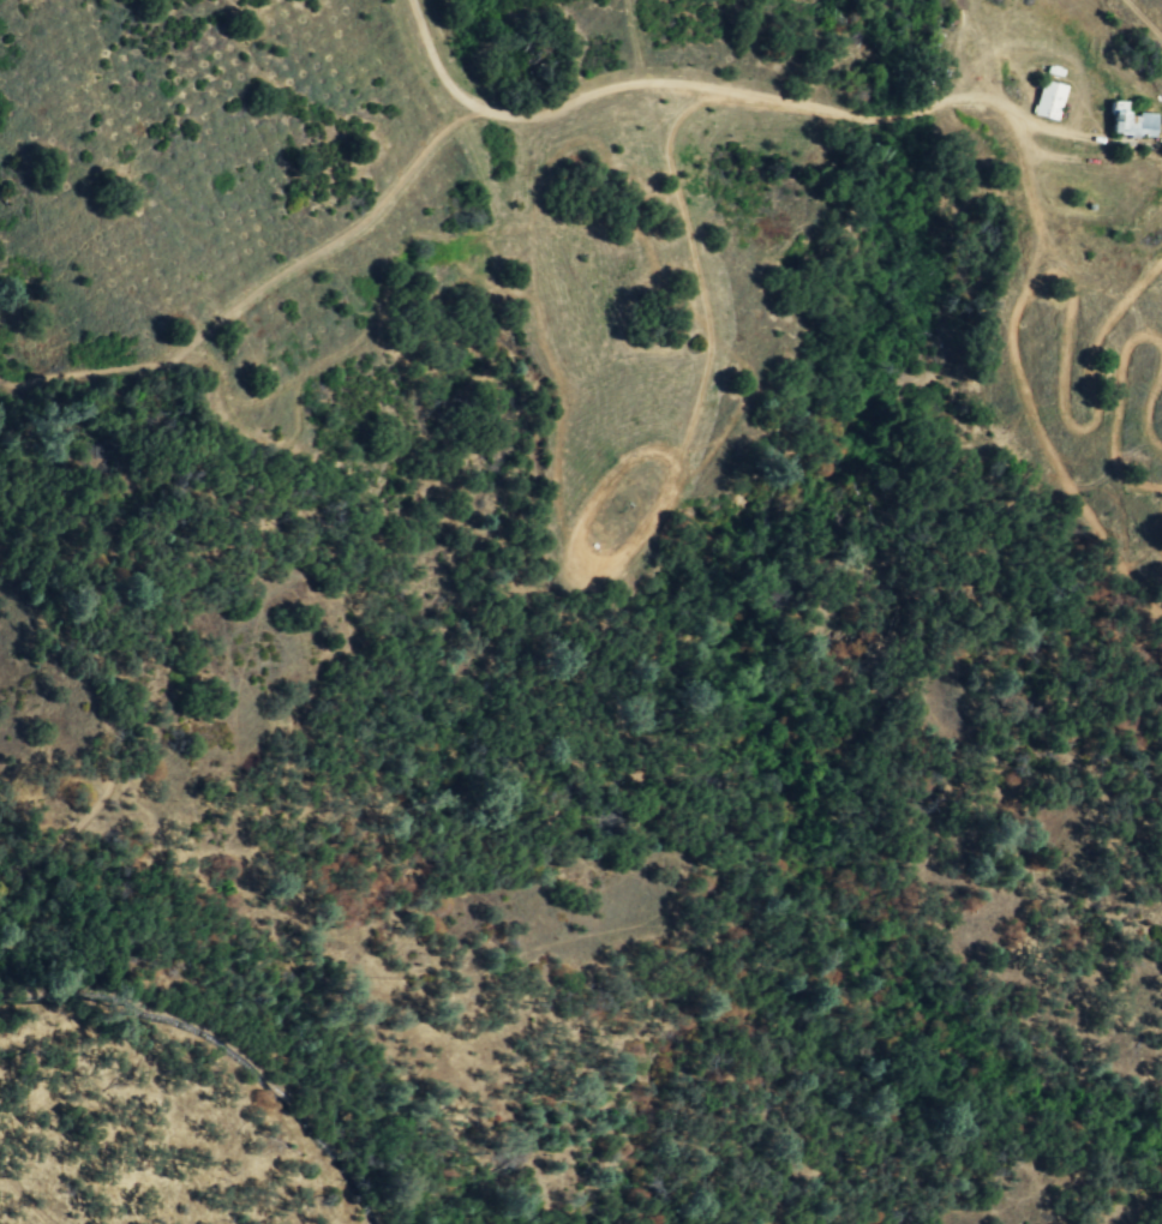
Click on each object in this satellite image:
road: (719, 90)
building: (1047, 100)
building: (1130, 121)

